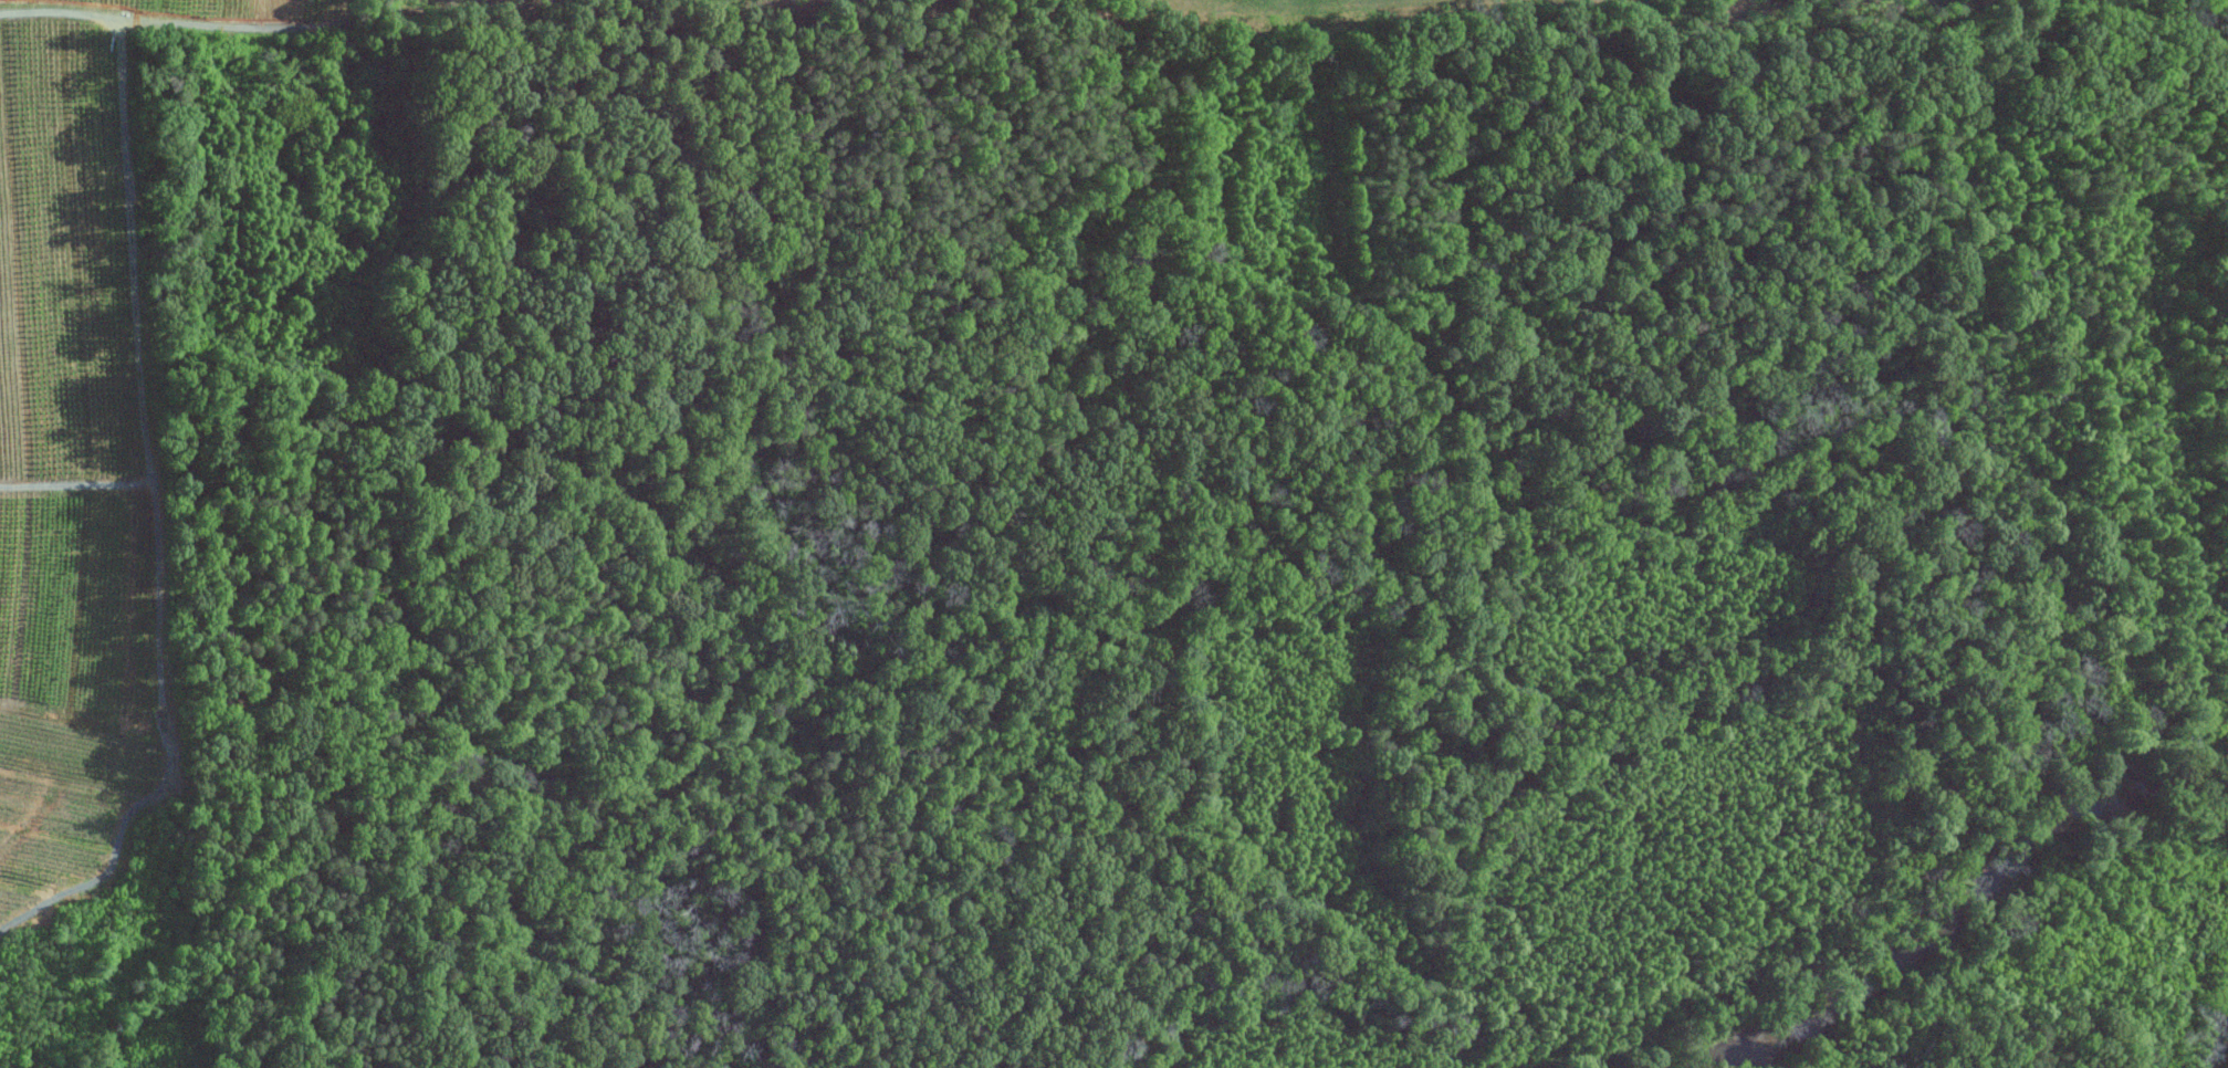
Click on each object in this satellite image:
road: (512, 105)
park: (1053, 564)
road: (1221, 594)
road: (1490, 1028)
river: (2217, 1041)
road: (1333, 1050)
road: (1469, 1057)

